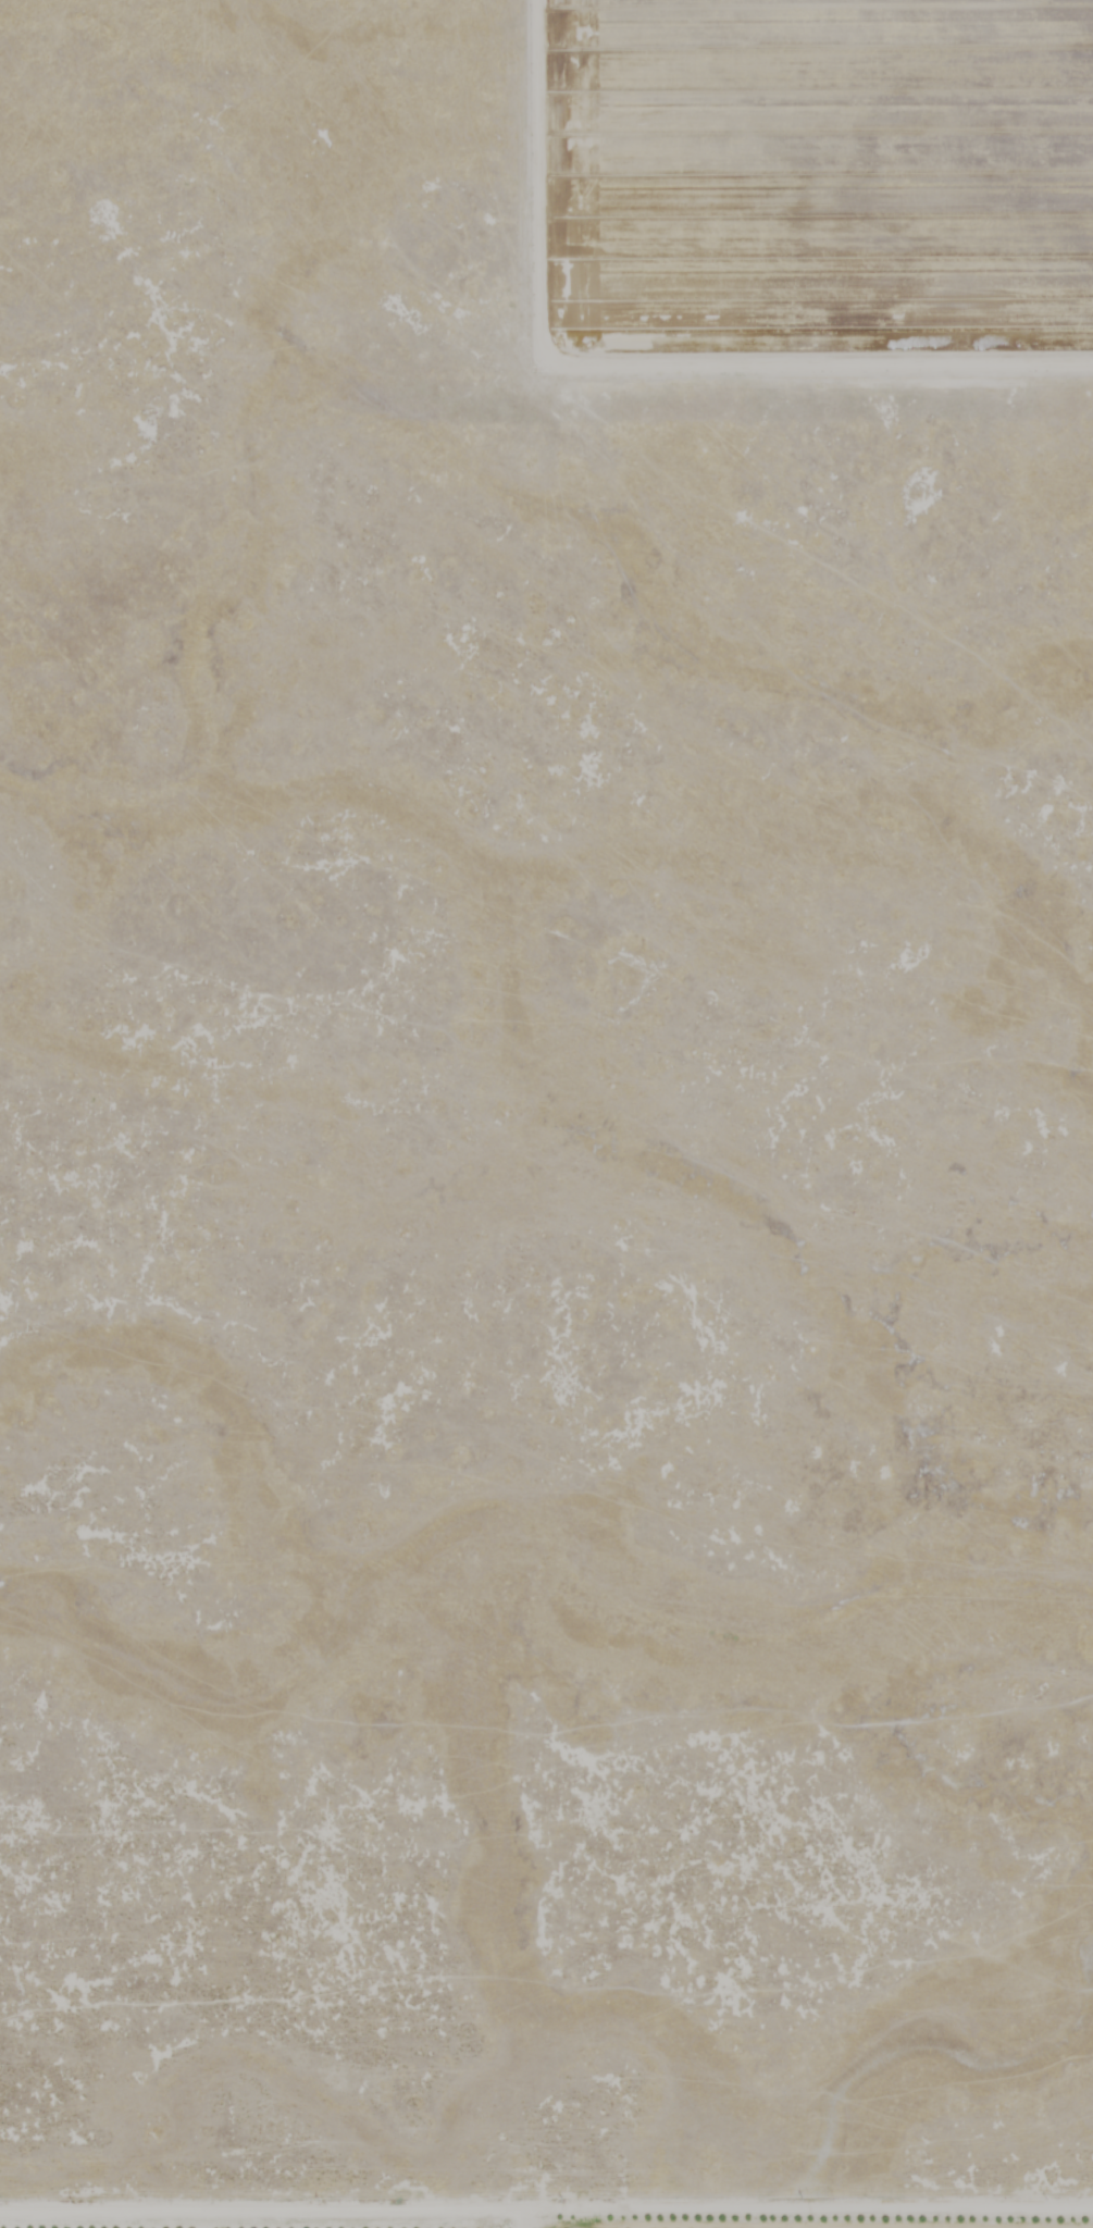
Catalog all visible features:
road: (795, 277)
crop: (665, 2219)

